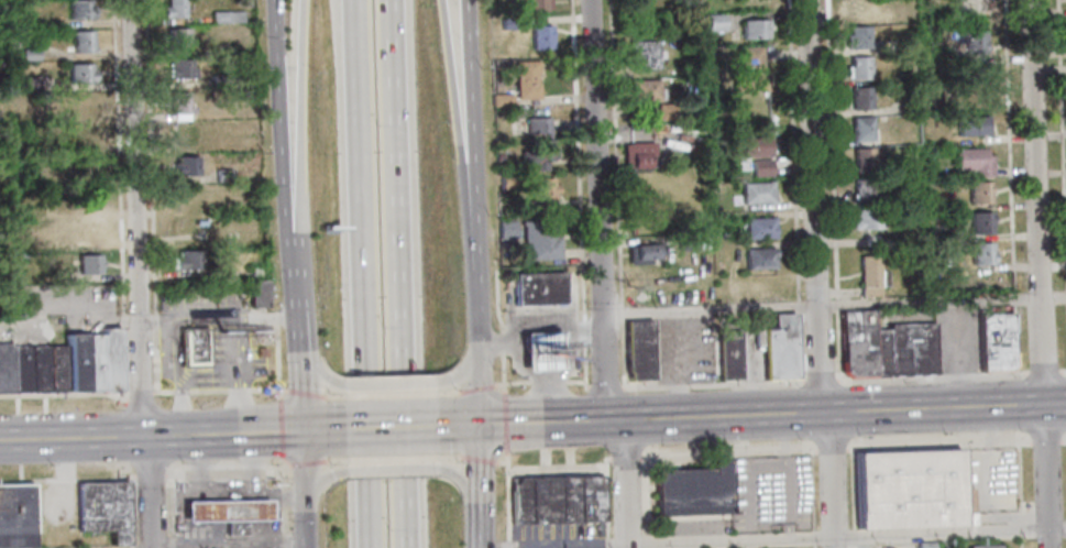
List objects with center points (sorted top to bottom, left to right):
building: (754, 3)
building: (531, 4)
building: (970, 6)
building: (856, 9)
building: (76, 10)
building: (171, 10)
building: (899, 12)
building: (224, 18)
building: (712, 20)
building: (507, 23)
building: (754, 28)
building: (539, 36)
building: (857, 36)
building: (175, 39)
building: (79, 41)
building: (972, 42)
building: (642, 54)
building: (26, 55)
building: (949, 61)
building: (857, 66)
building: (177, 68)
building: (749, 68)
building: (77, 73)
building: (525, 79)
building: (213, 83)
building: (29, 84)
building: (642, 89)
building: (859, 97)
building: (972, 97)
building: (177, 103)
building: (83, 105)
road: (1062, 109)
building: (663, 110)
building: (532, 124)
building: (974, 124)
road: (279, 127)
road: (297, 127)
building: (860, 128)
building: (179, 133)
building: (83, 138)
road: (1010, 145)
building: (754, 146)
road: (791, 150)
road: (831, 150)
road: (613, 153)
building: (535, 155)
building: (636, 155)
road: (458, 156)
road: (470, 156)
building: (861, 157)
building: (974, 162)
building: (182, 166)
building: (759, 166)
building: (218, 175)
building: (540, 188)
building: (864, 189)
road: (576, 190)
building: (980, 191)
building: (756, 193)
road: (116, 196)
building: (84, 201)
road: (812, 206)
road: (594, 210)
building: (865, 219)
building: (927, 220)
building: (981, 221)
building: (758, 227)
building: (502, 228)
building: (188, 229)
building: (79, 231)
building: (537, 239)
building: (683, 240)
building: (641, 251)
building: (982, 252)
building: (758, 257)
building: (183, 261)
building: (86, 264)
road: (288, 268)
building: (250, 272)
road: (134, 274)
road: (369, 274)
road: (400, 274)
road: (1038, 274)
building: (870, 276)
building: (534, 288)
building: (252, 296)
road: (1013, 298)
road: (492, 302)
road: (87, 304)
road: (832, 305)
road: (796, 306)
road: (835, 306)
road: (293, 311)
road: (618, 311)
road: (215, 318)
road: (270, 319)
road: (19, 324)
road: (1014, 340)
building: (993, 342)
road: (497, 343)
building: (854, 343)
road: (835, 346)
building: (191, 347)
road: (798, 347)
building: (777, 348)
building: (909, 350)
building: (635, 351)
road: (619, 352)
building: (879, 353)
building: (537, 354)
building: (726, 355)
road: (272, 360)
building: (100, 361)
building: (74, 363)
building: (6, 369)
building: (56, 369)
road: (311, 369)
road: (473, 369)
building: (20, 370)
building: (37, 370)
road: (1063, 371)
road: (1043, 372)
road: (454, 374)
road: (498, 374)
road: (235, 375)
road: (204, 376)
road: (932, 376)
road: (172, 377)
road: (820, 380)
road: (542, 381)
road: (573, 381)
road: (512, 382)
road: (495, 383)
road: (296, 384)
road: (711, 384)
road: (385, 385)
road: (602, 386)
road: (472, 388)
road: (215, 390)
road: (300, 392)
road: (138, 393)
road: (63, 394)
road: (386, 394)
road: (942, 406)
road: (633, 416)
road: (711, 416)
road: (501, 421)
road: (538, 424)
road: (459, 426)
traffic signals: (473, 426)
road: (276, 428)
road: (388, 428)
road: (315, 429)
traffic signals: (298, 430)
road: (268, 431)
road: (120, 437)
road: (1043, 440)
road: (1062, 440)
road: (833, 447)
road: (473, 457)
road: (623, 457)
road: (389, 458)
road: (474, 460)
road: (305, 461)
road: (497, 461)
road: (250, 462)
road: (226, 463)
road: (197, 465)
road: (388, 468)
road: (553, 468)
road: (165, 471)
road: (458, 475)
road: (1016, 476)
road: (150, 478)
road: (67, 479)
road: (828, 479)
road: (314, 481)
road: (625, 483)
road: (298, 489)
building: (905, 489)
road: (642, 491)
building: (693, 491)
road: (248, 492)
parking lot: (767, 492)
road: (604, 494)
road: (504, 496)
building: (552, 497)
road: (810, 497)
road: (849, 497)
road: (281, 503)
road: (989, 506)
building: (101, 508)
road: (198, 508)
building: (222, 508)
building: (15, 515)
road: (272, 515)
building: (232, 520)
road: (474, 522)
parking lot: (693, 525)
road: (1018, 526)
road: (198, 530)
parking lot: (560, 534)
road: (818, 539)
road: (224, 540)
road: (645, 540)
road: (605, 541)
road: (504, 544)
road: (1018, 544)
building: (922, 545)
building: (980, 546)

